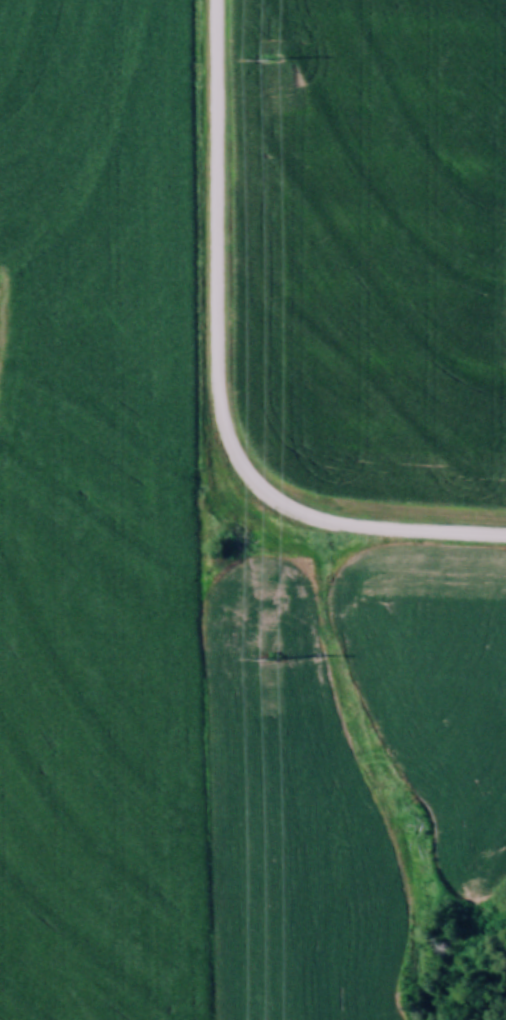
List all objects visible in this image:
power tower: (268, 59)
road: (218, 198)
road: (324, 524)
power tower: (265, 658)

